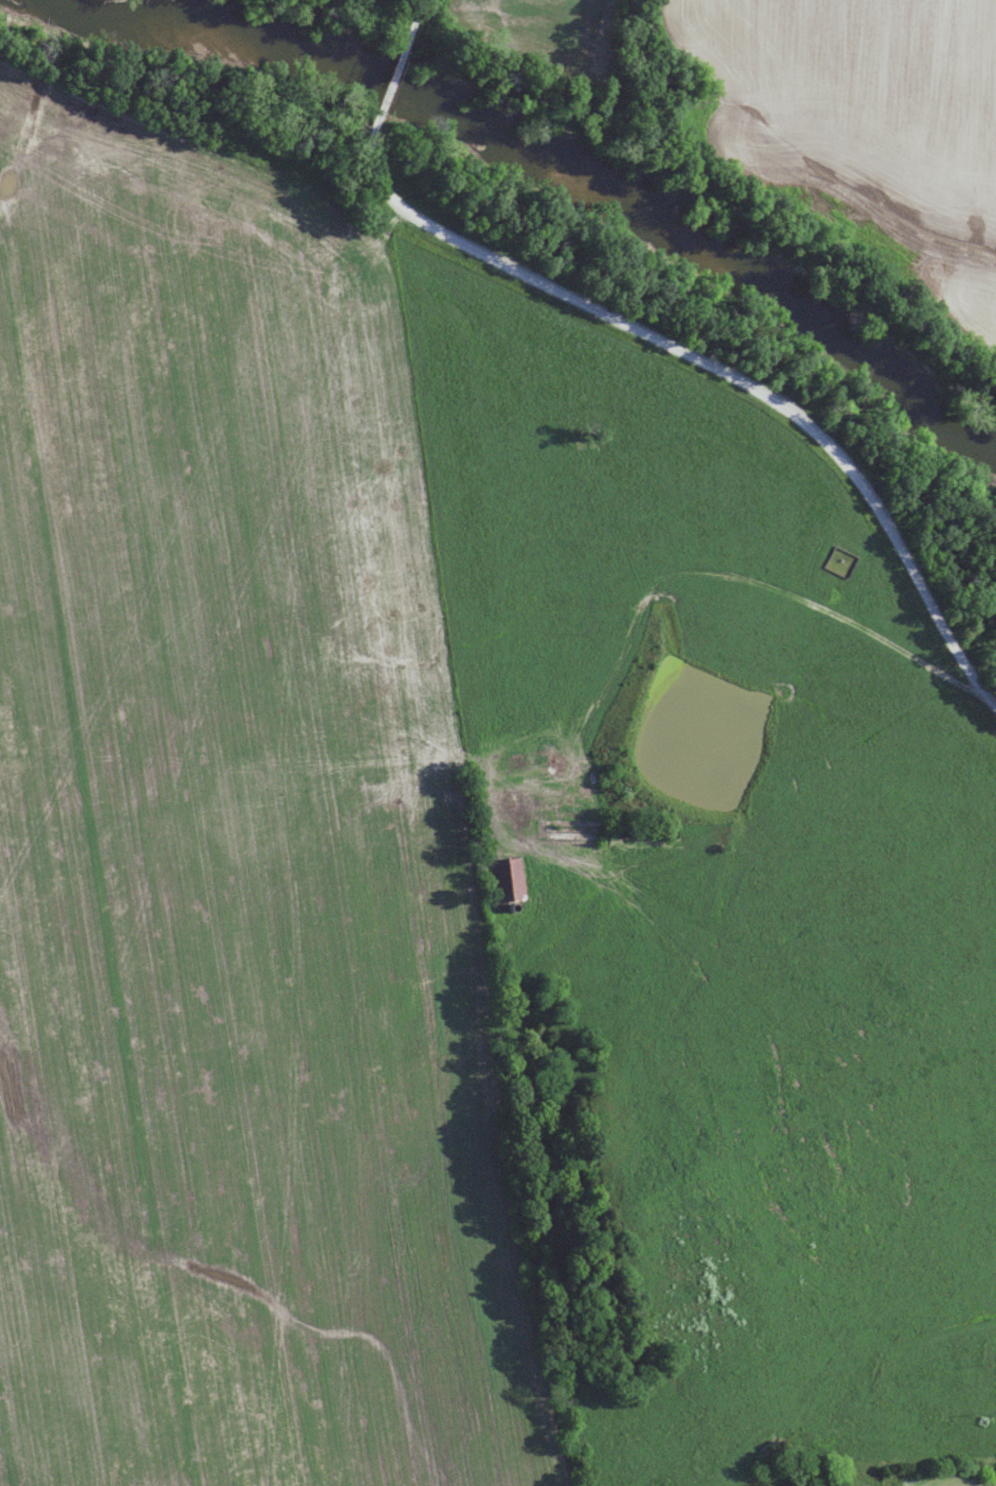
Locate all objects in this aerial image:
road: (411, 22)
road: (389, 87)
river: (569, 157)
road: (677, 382)
park: (838, 562)
building: (508, 879)

